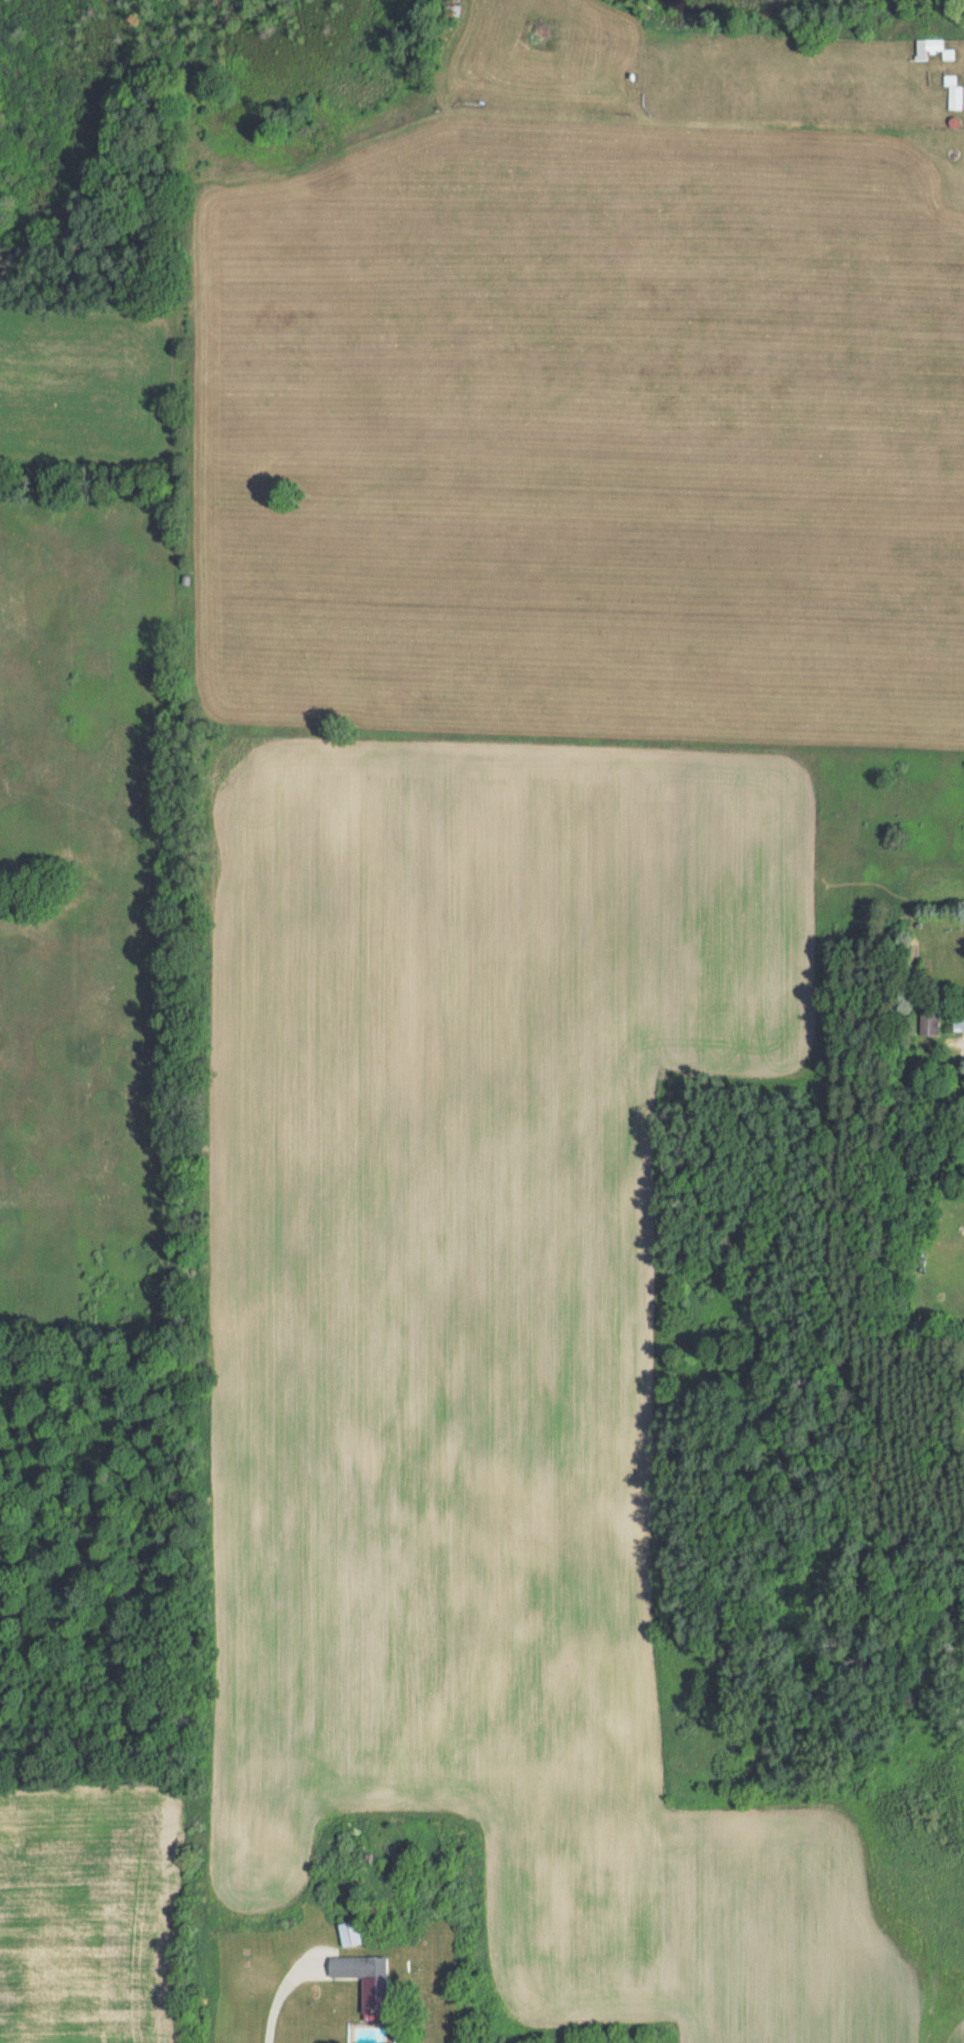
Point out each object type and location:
building: (452, 9)
building: (931, 48)
building: (953, 92)
building: (957, 1021)
building: (931, 1023)
building: (349, 1933)
building: (364, 1981)
road: (278, 1999)

